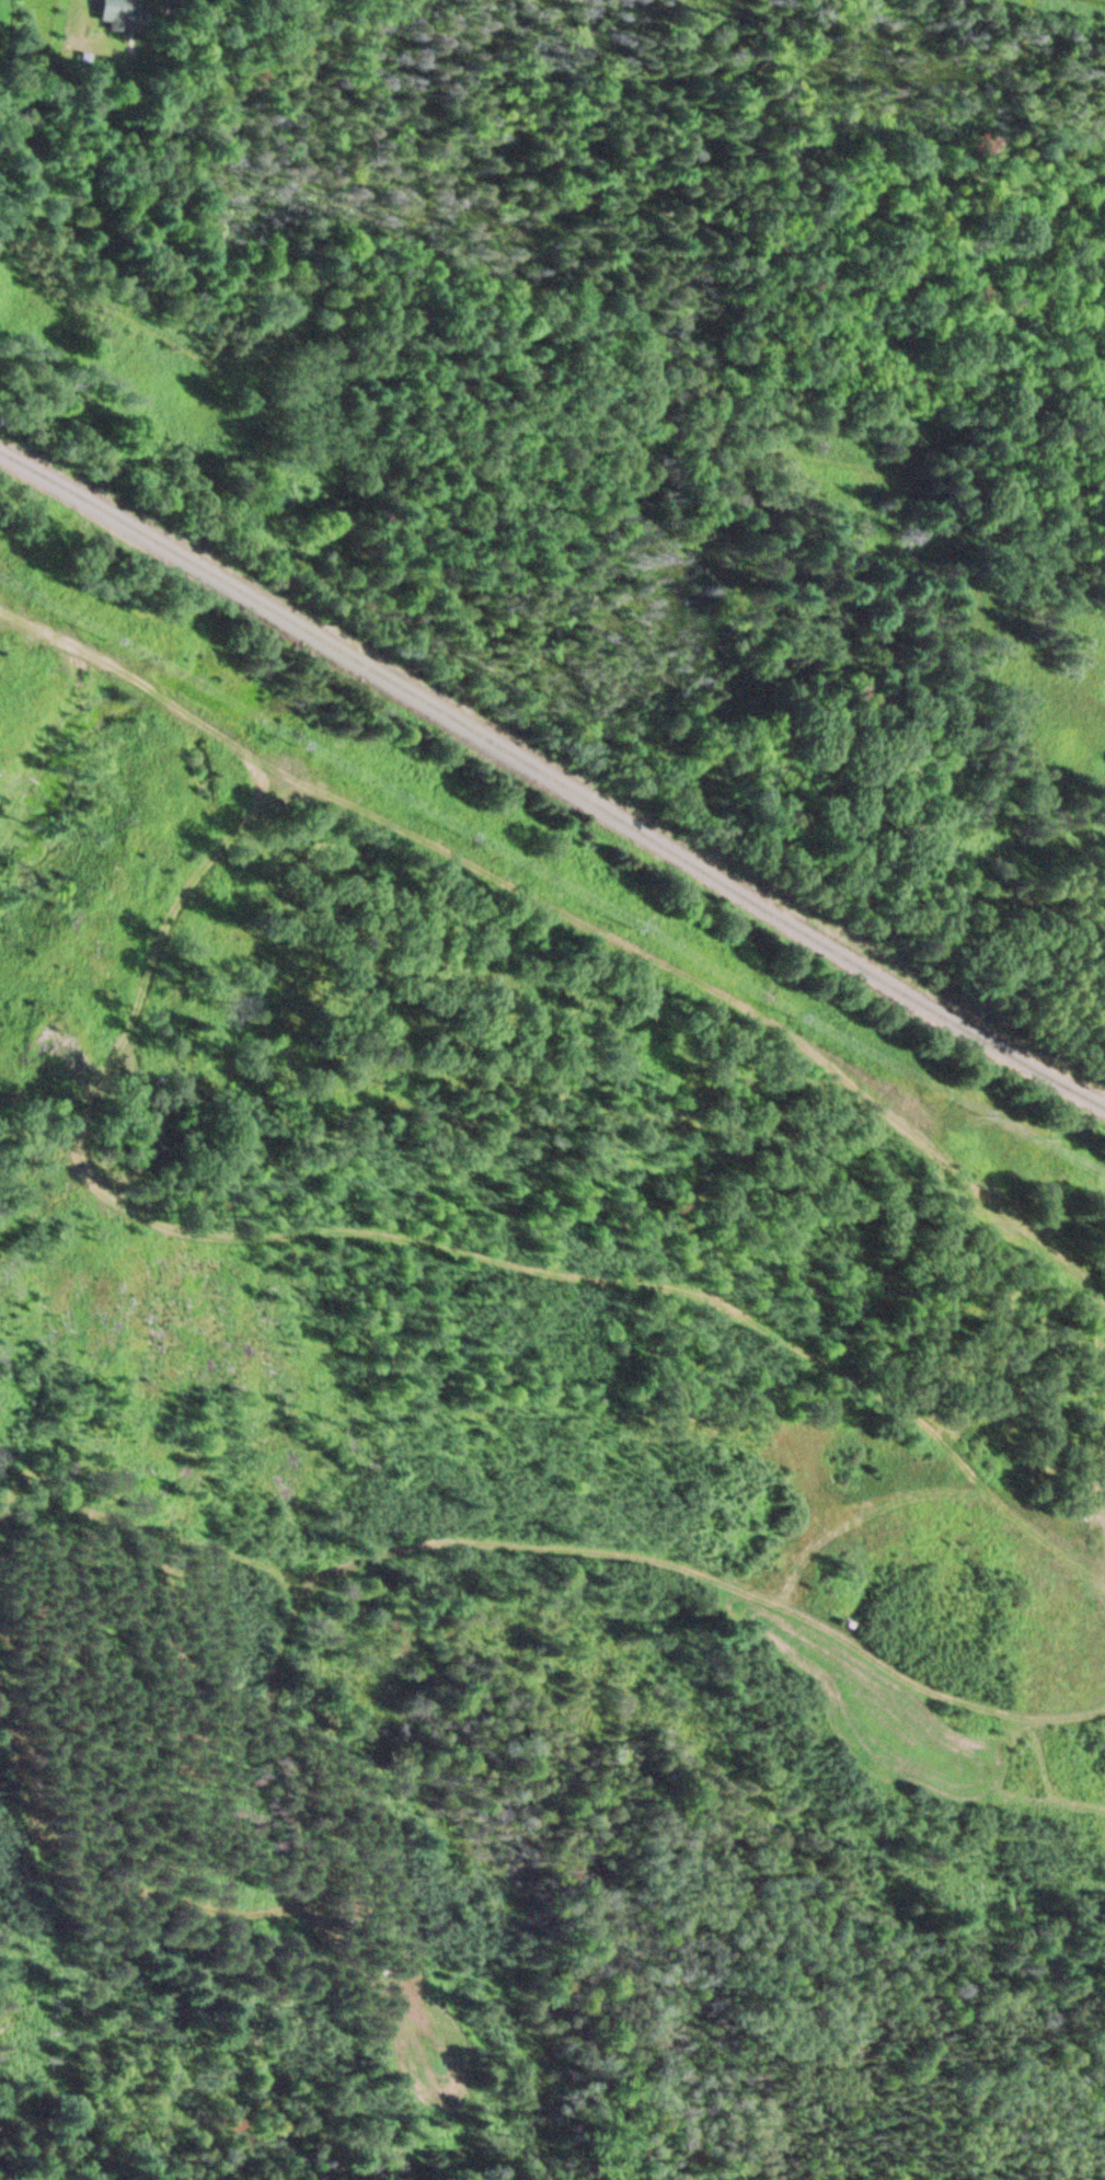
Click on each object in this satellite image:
railway: (553, 779)

